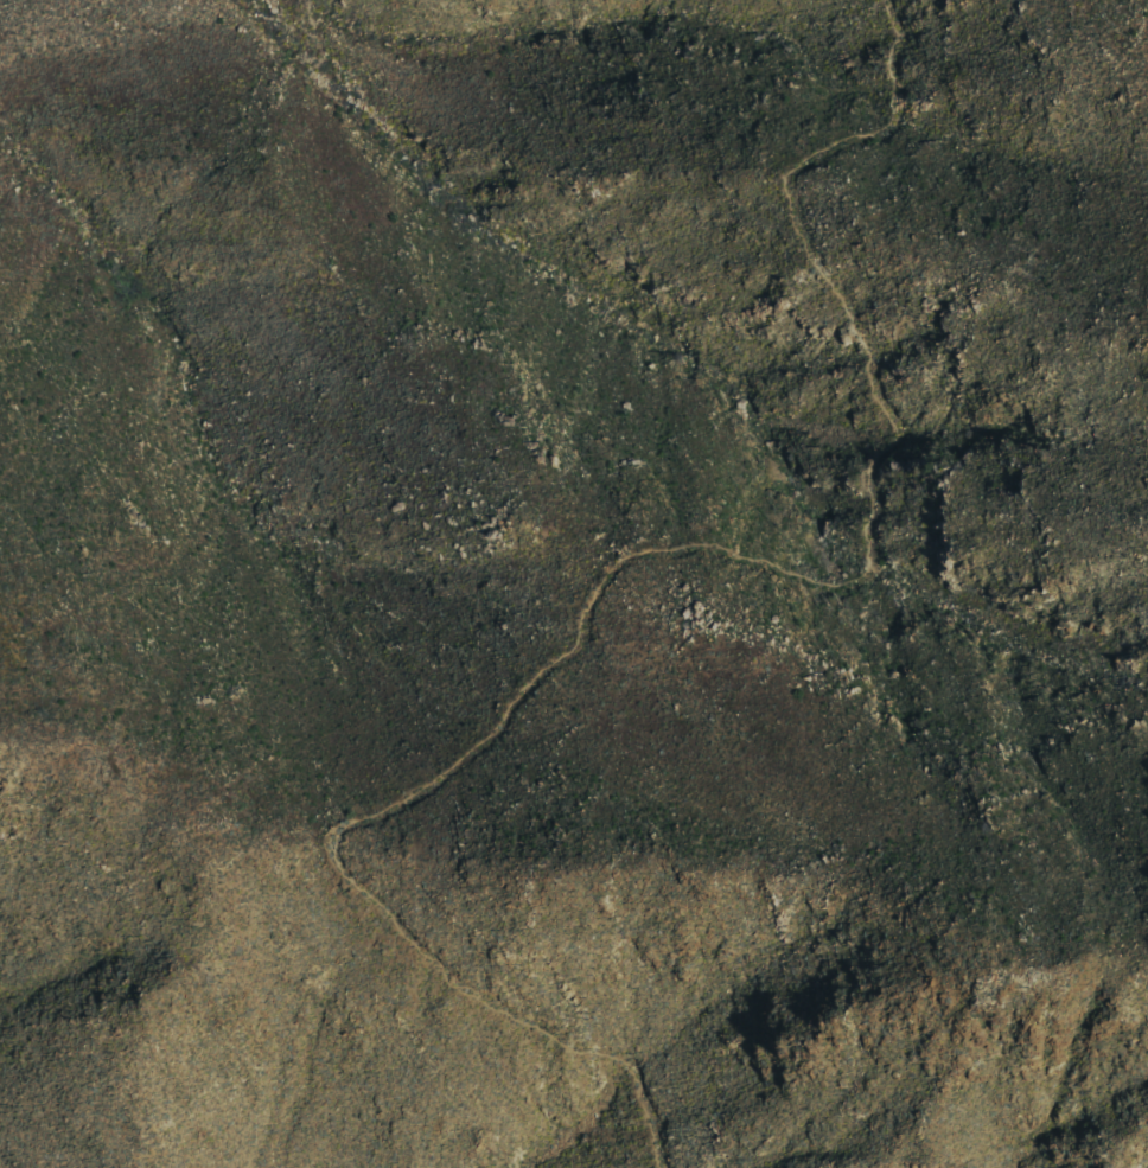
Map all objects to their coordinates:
road: (623, 561)

